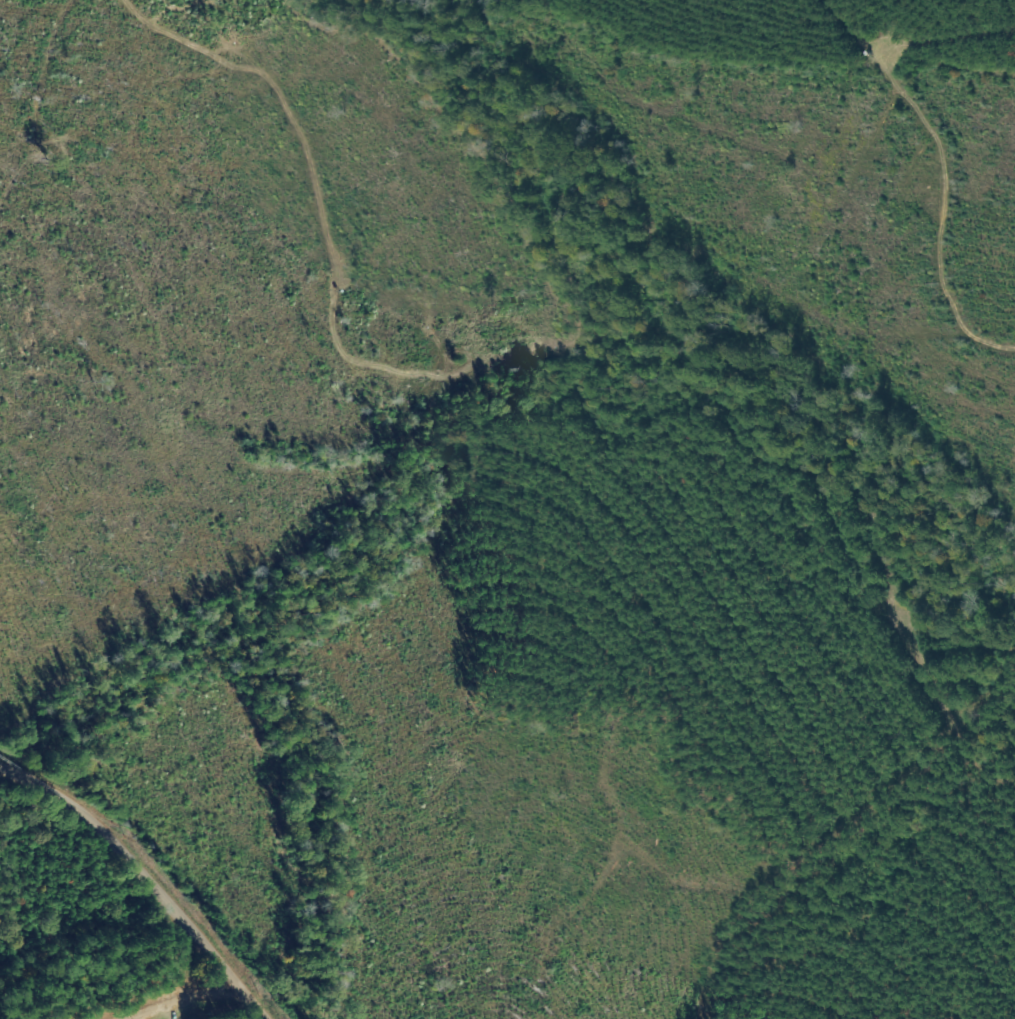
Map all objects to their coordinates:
road: (130, 890)
road: (253, 1012)
road: (220, 1013)

